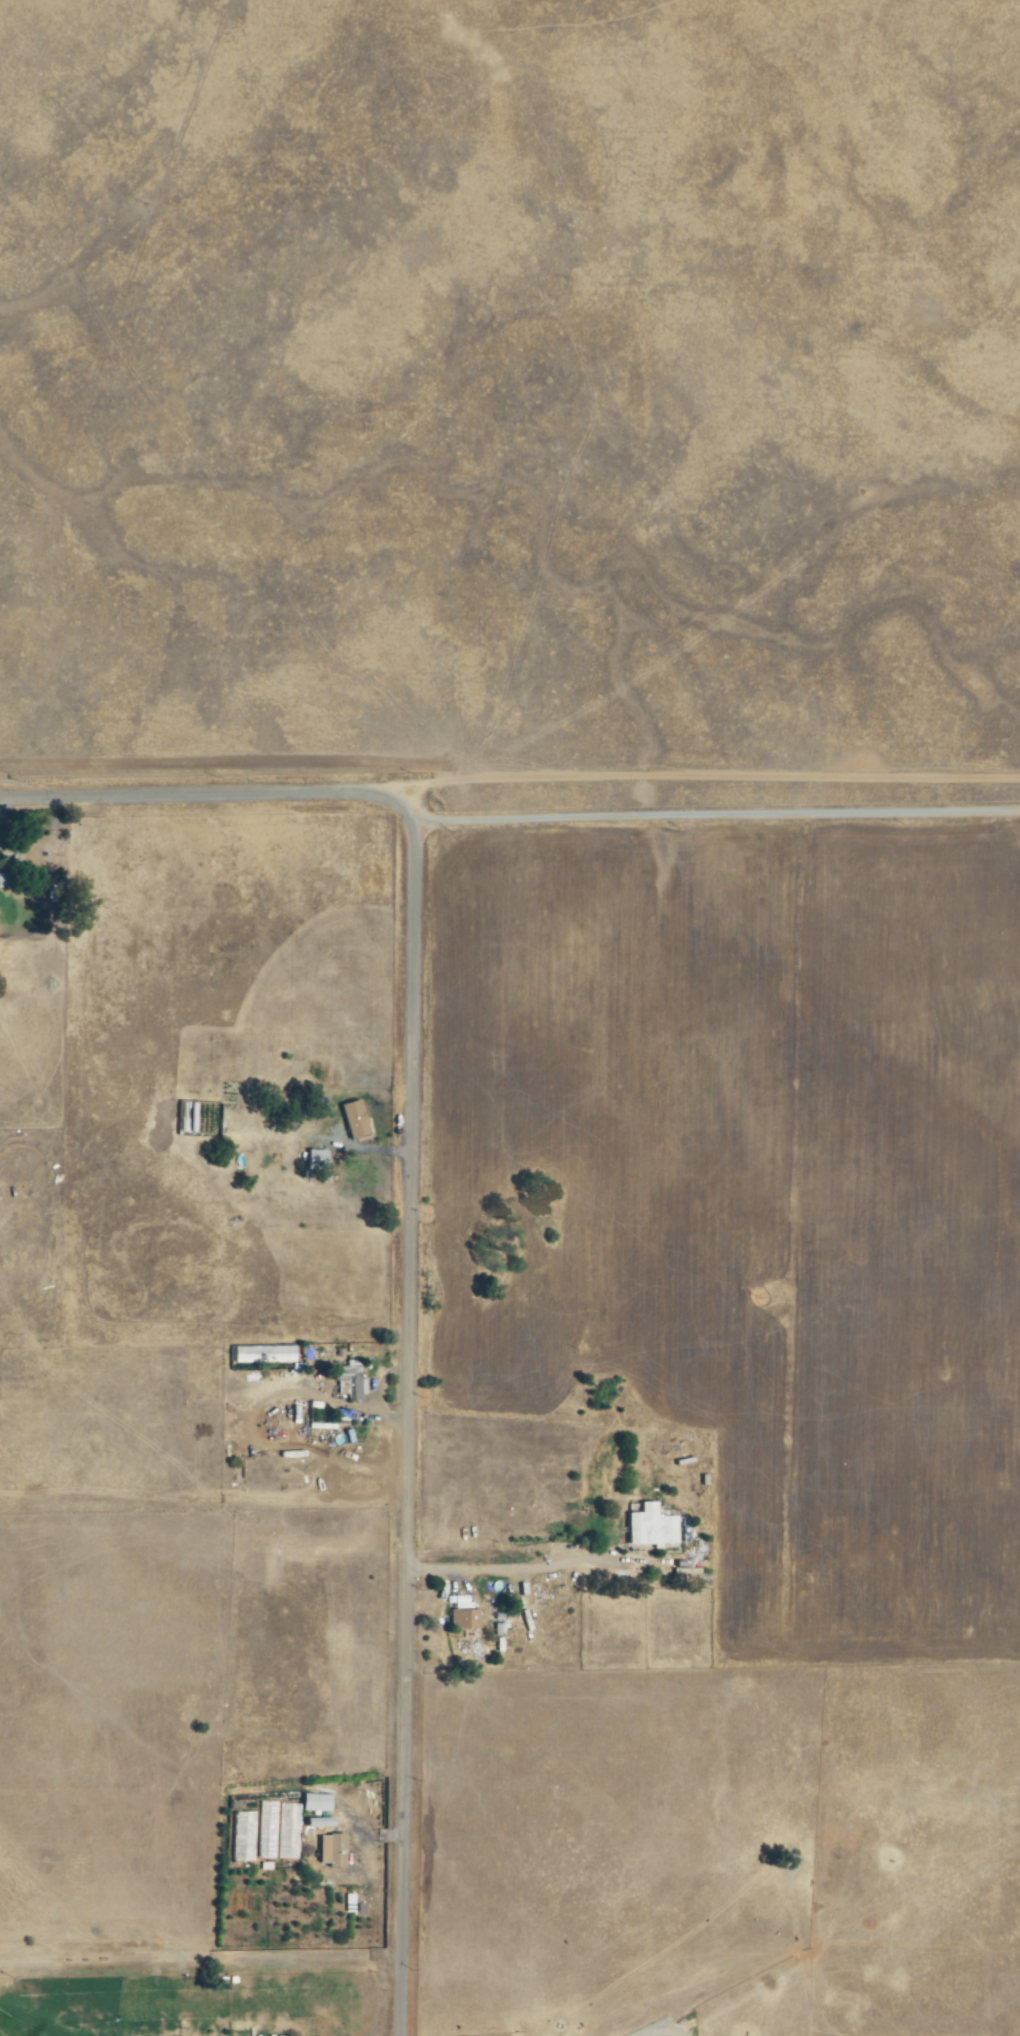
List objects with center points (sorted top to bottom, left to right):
road: (714, 772)
road: (716, 812)
building: (356, 1119)
building: (318, 1160)
road: (409, 1207)
building: (349, 1378)
building: (652, 1527)
road: (500, 1570)
building: (464, 1619)
building: (502, 1629)
building: (317, 1803)
building: (338, 1851)

